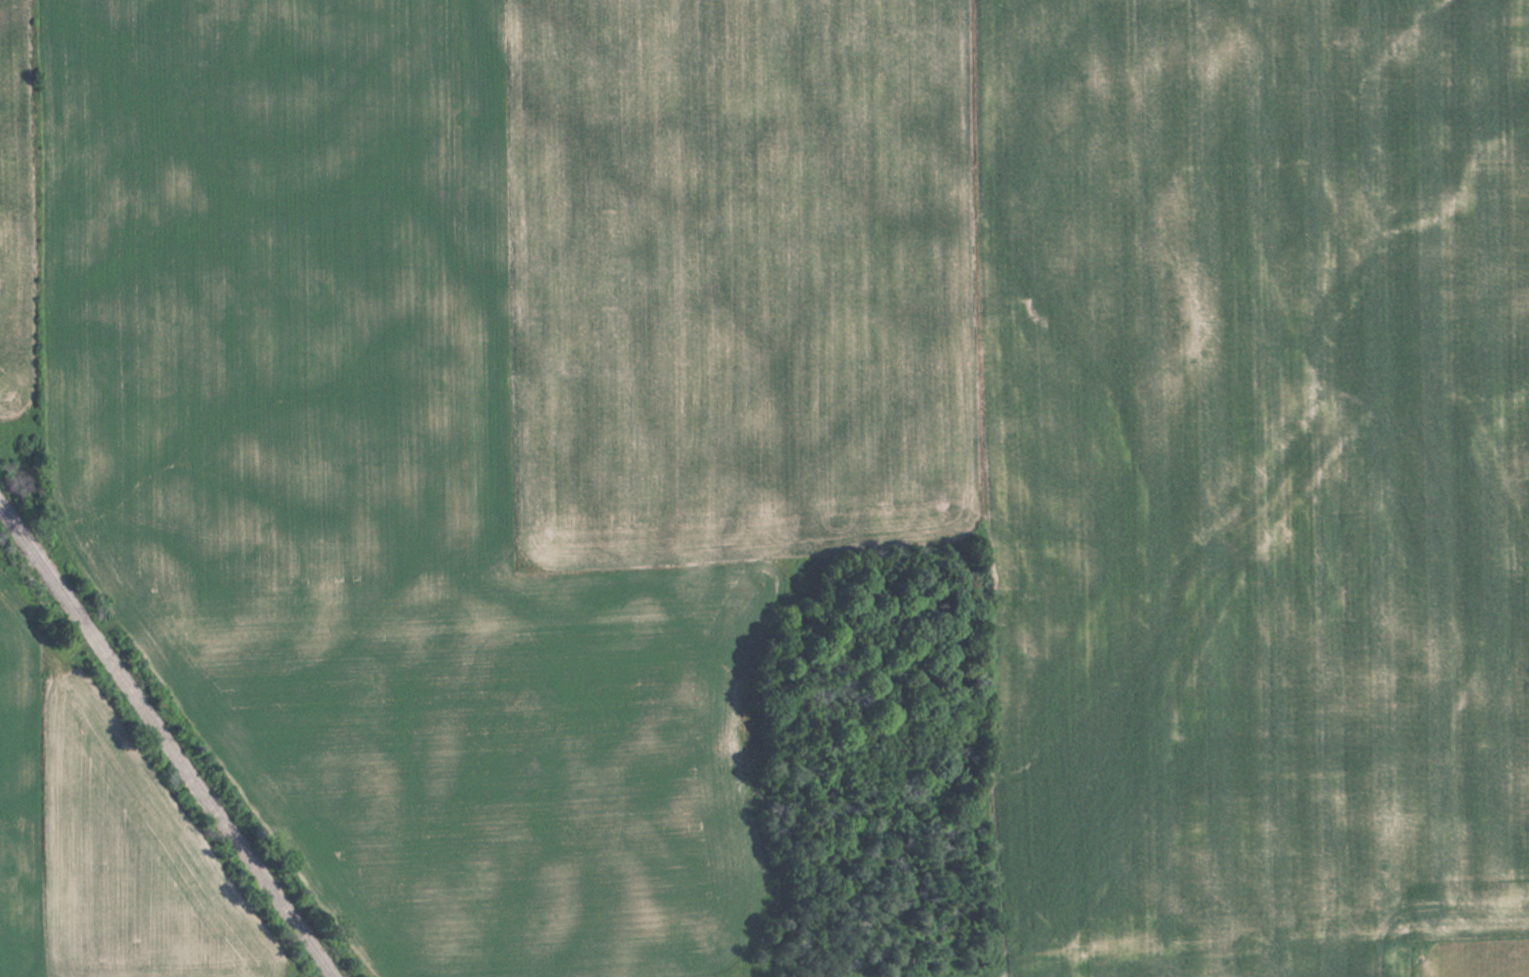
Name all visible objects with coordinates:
railway: (167, 737)

